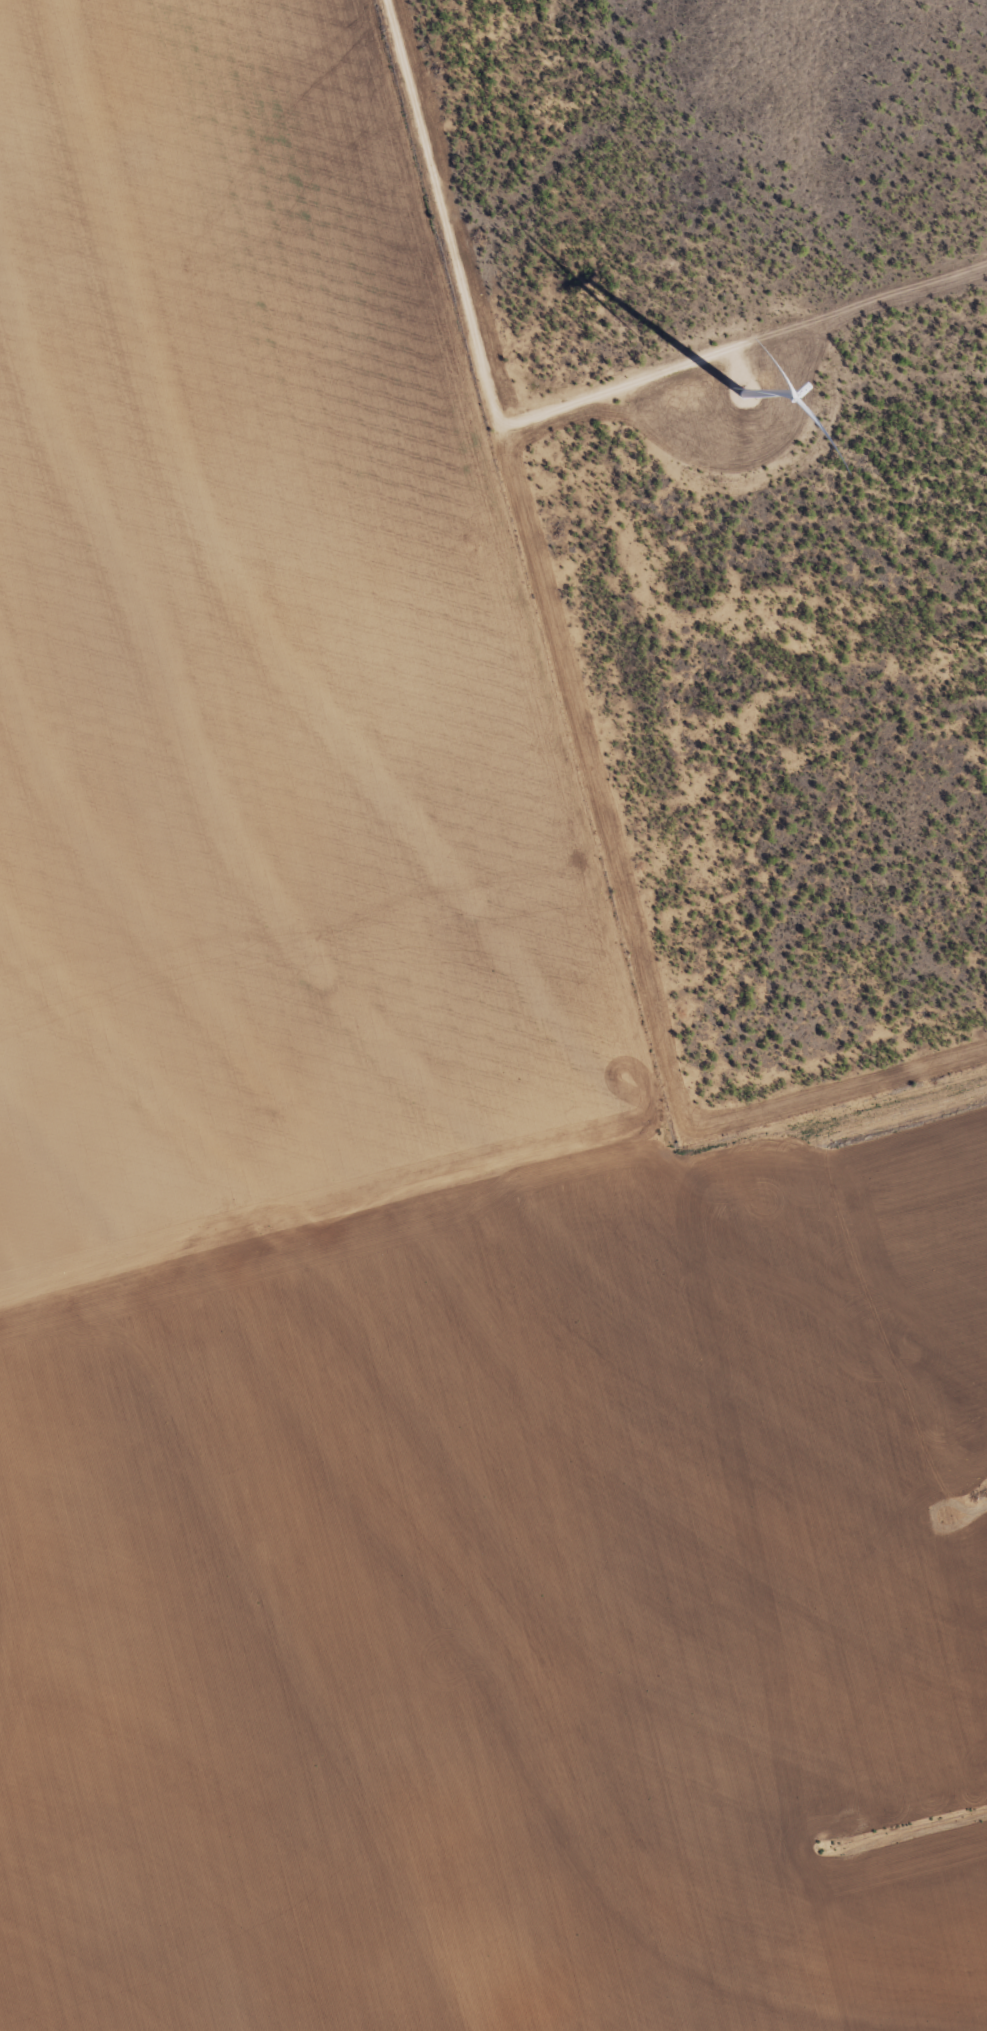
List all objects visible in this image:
wind turbine: (744, 390)

